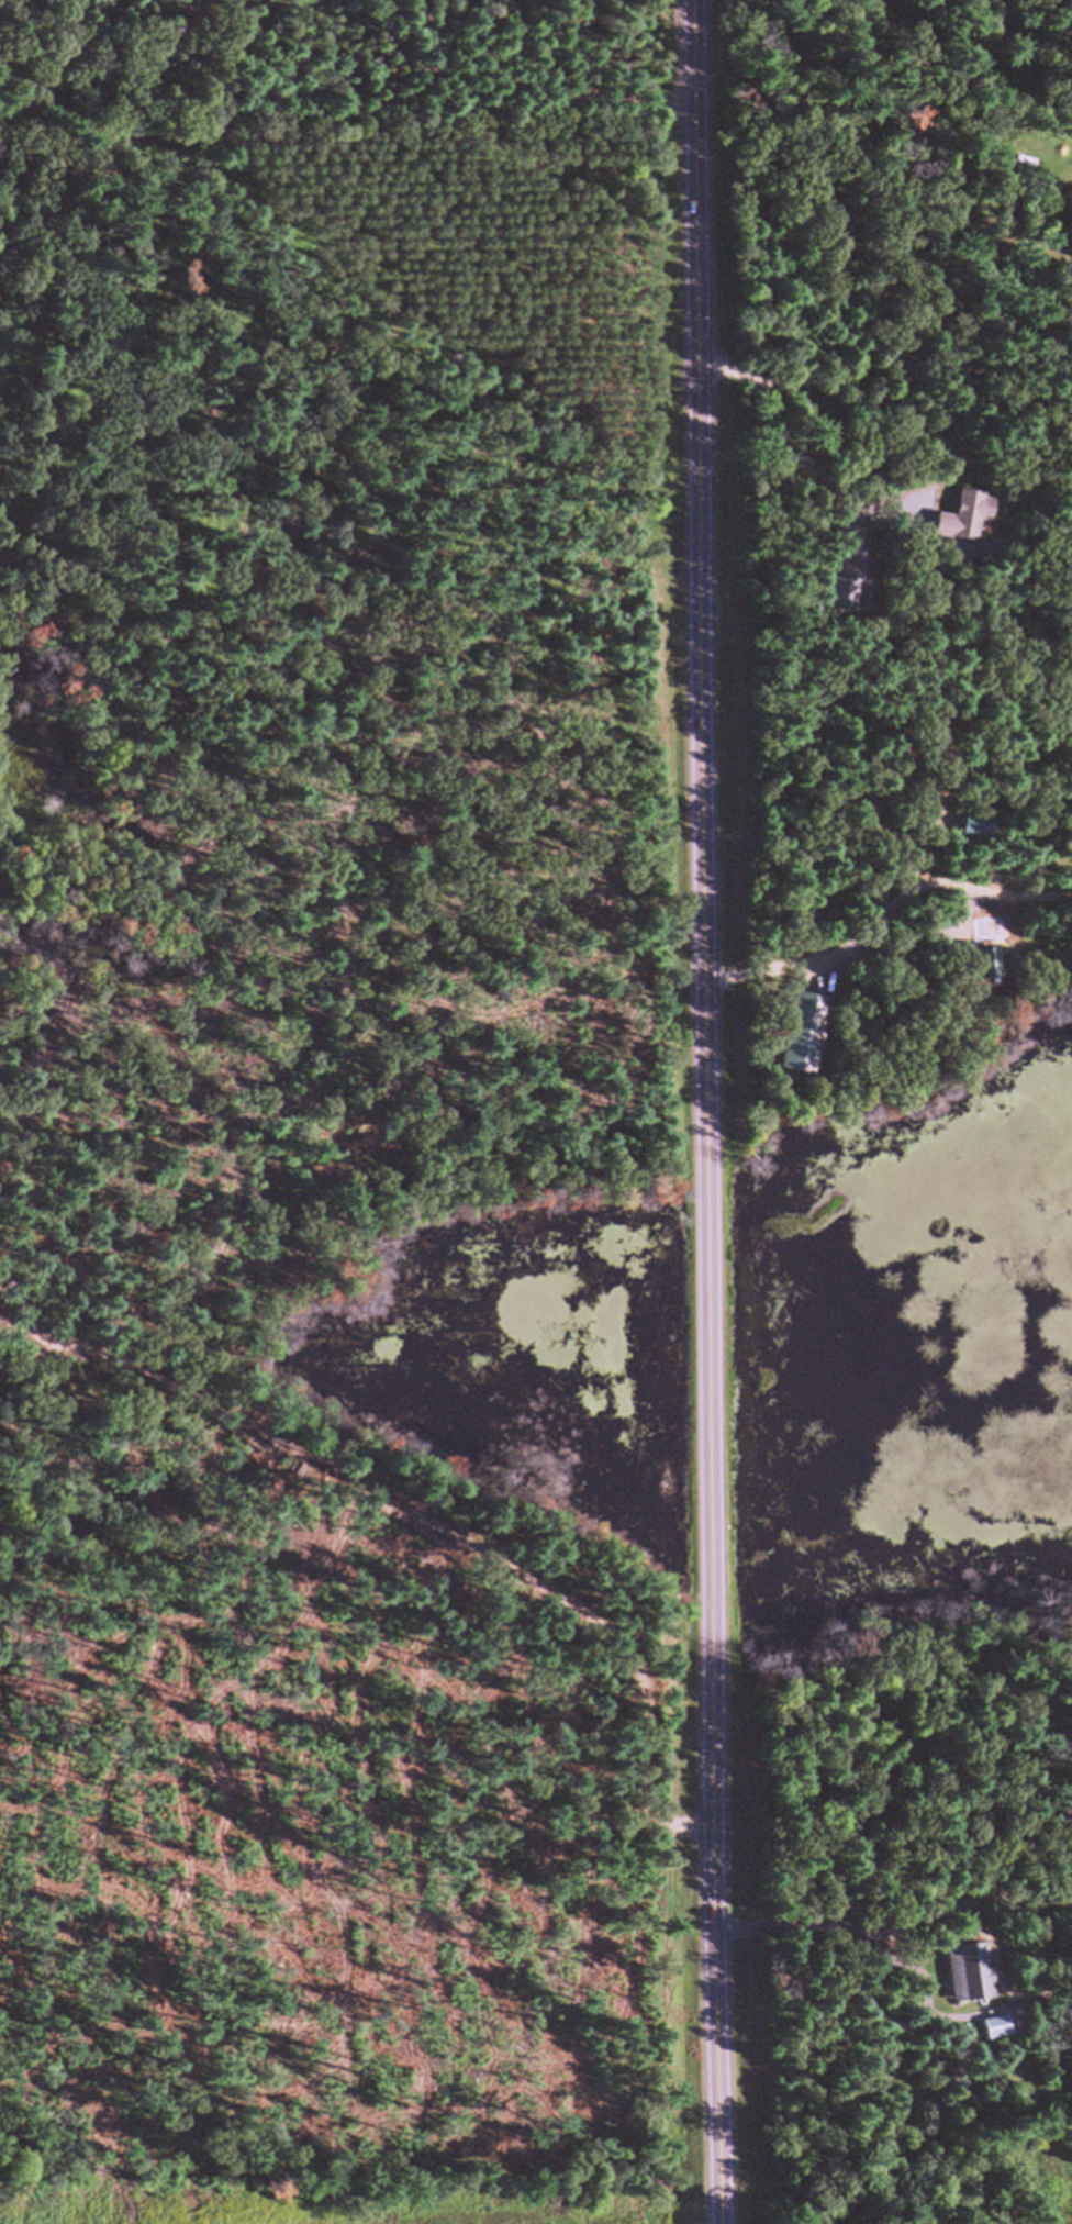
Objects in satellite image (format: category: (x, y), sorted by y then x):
road: (783, 427)
building: (961, 516)
building: (844, 594)
building: (933, 727)
building: (973, 826)
road: (884, 911)
building: (979, 963)
building: (800, 1034)
road: (708, 1111)
building: (963, 1972)
building: (986, 2028)

